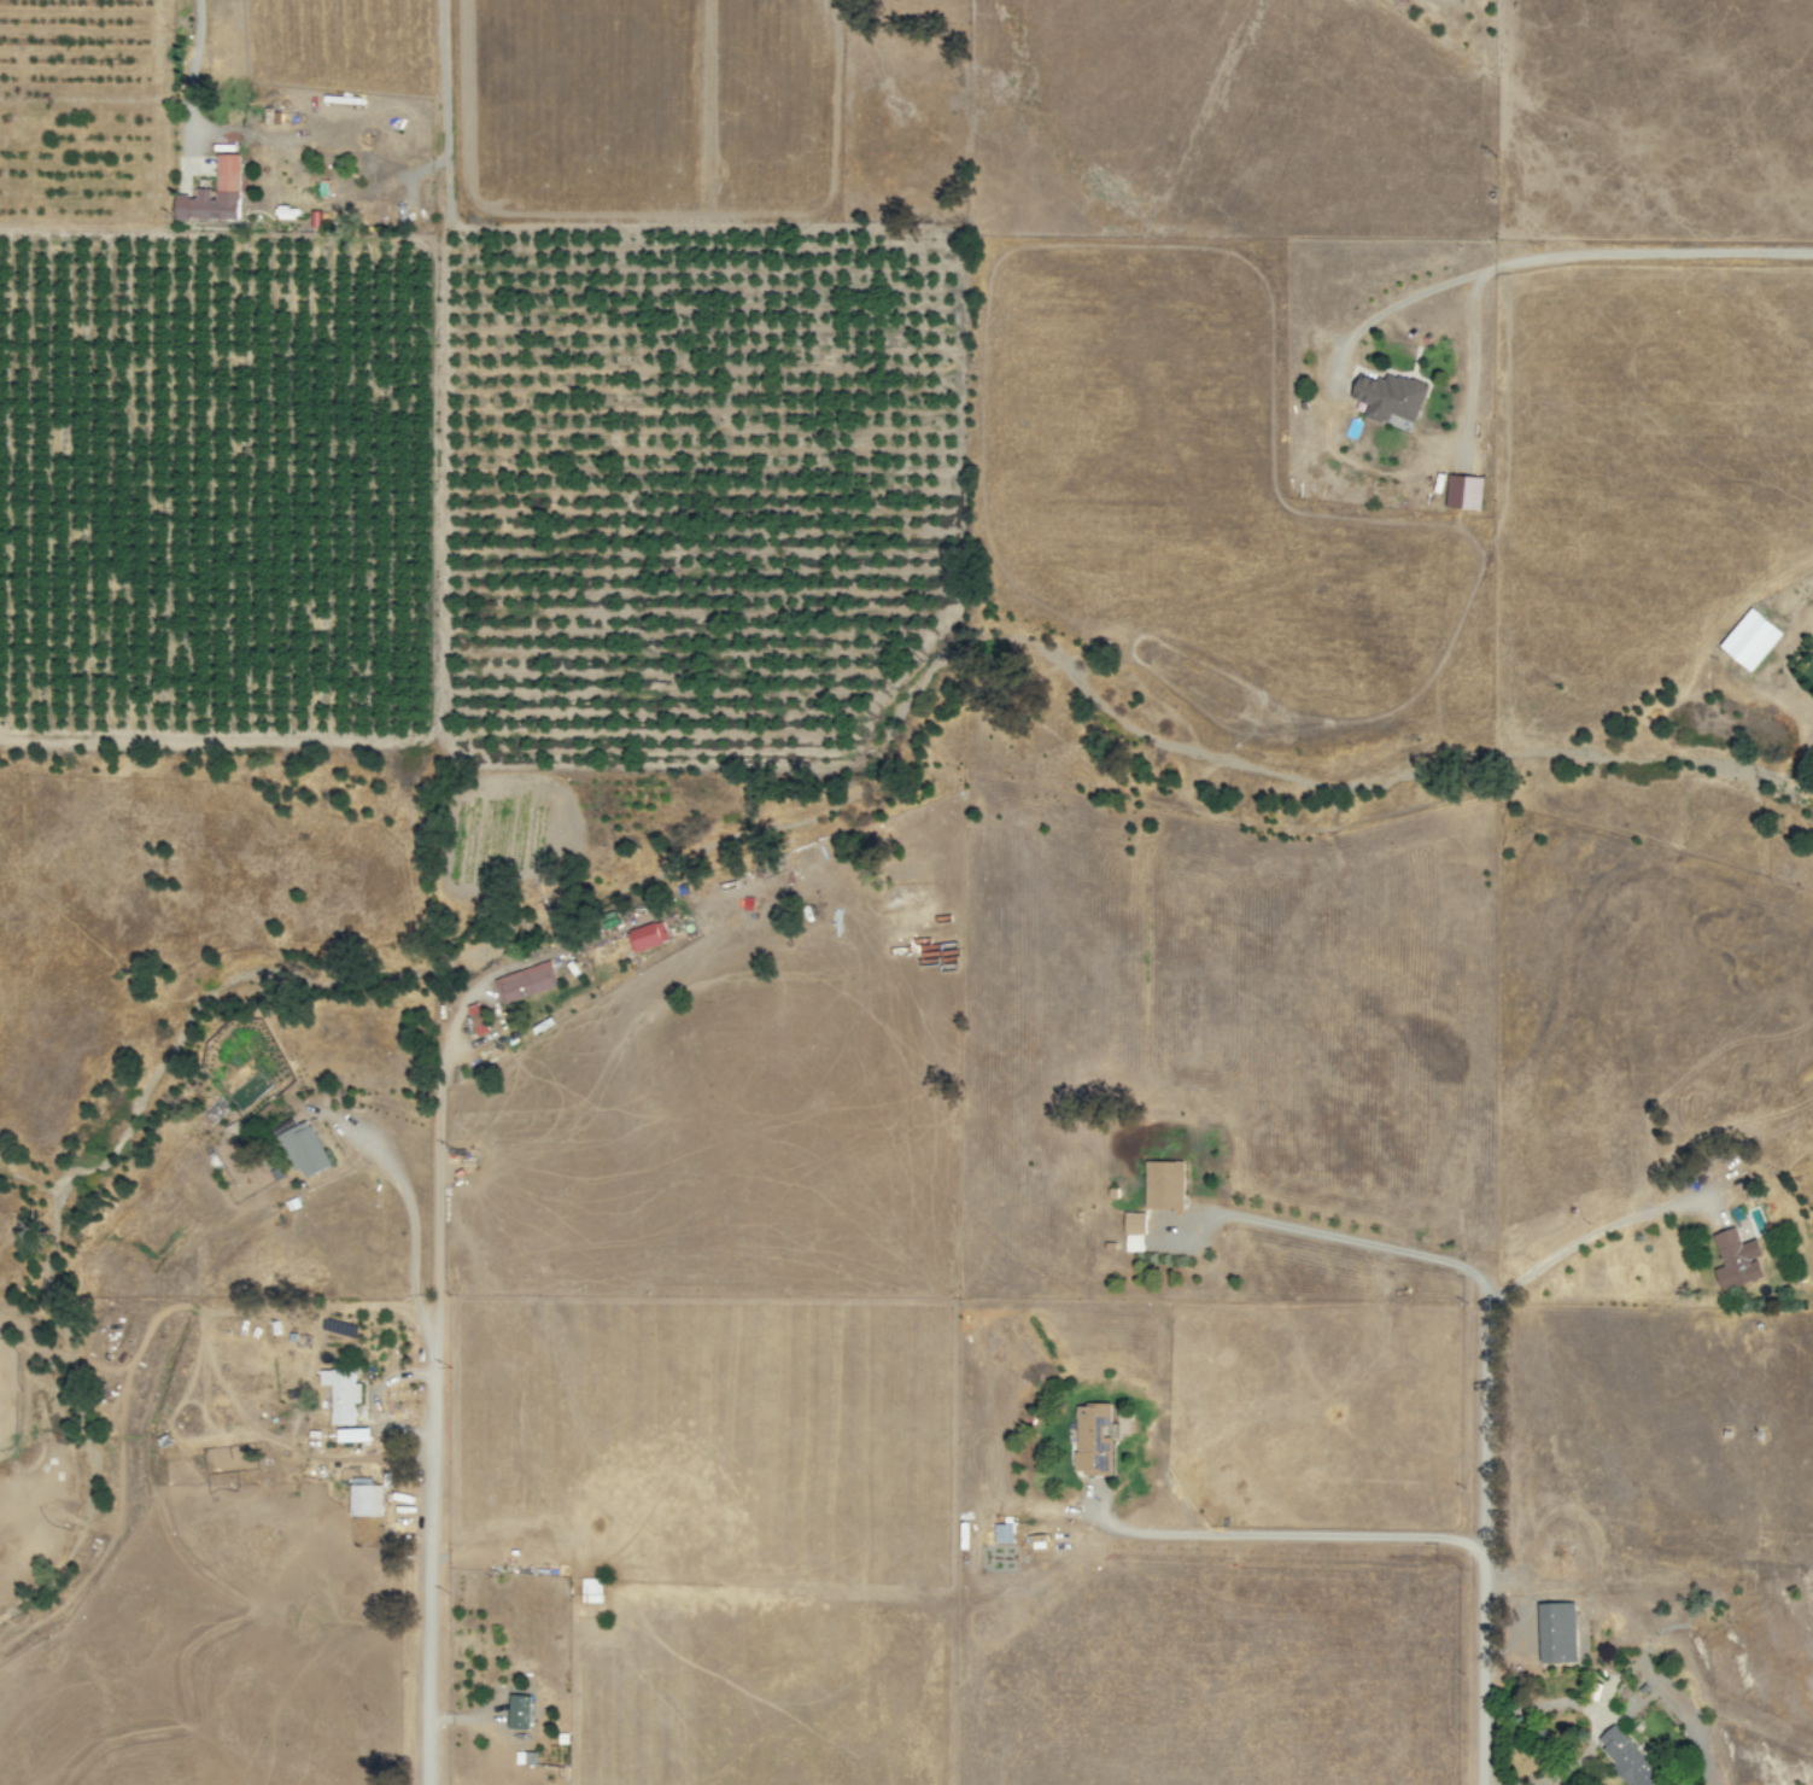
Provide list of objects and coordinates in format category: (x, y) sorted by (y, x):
road: (189, 70)
building: (215, 193)
road: (1554, 257)
building: (1391, 397)
building: (1463, 492)
building: (1743, 638)
building: (1812, 649)
building: (645, 937)
building: (524, 982)
building: (475, 1019)
building: (304, 1149)
building: (1157, 1184)
road: (409, 1215)
building: (1129, 1230)
road: (1597, 1230)
road: (1359, 1241)
building: (1730, 1259)
building: (340, 1394)
building: (1088, 1437)
road: (431, 1452)
building: (365, 1497)
building: (998, 1533)
road: (1283, 1533)
road: (1481, 1544)
building: (1550, 1633)
building: (520, 1711)
road: (1587, 1717)
building: (525, 1757)
building: (1620, 1757)

